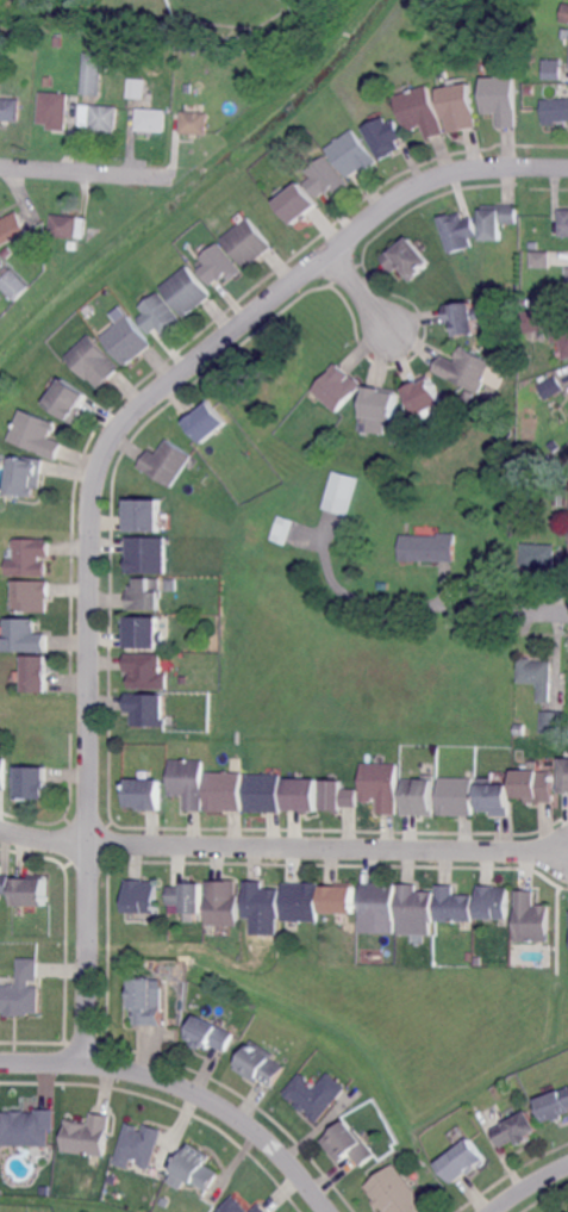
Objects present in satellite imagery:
building: (566, 14)
building: (24, 29)
building: (566, 35)
building: (123, 41)
building: (57, 42)
building: (93, 45)
building: (555, 69)
building: (92, 74)
building: (46, 80)
building: (137, 87)
building: (188, 87)
building: (530, 88)
building: (503, 100)
building: (54, 107)
building: (10, 108)
building: (460, 108)
building: (423, 111)
building: (556, 111)
building: (99, 116)
building: (151, 119)
building: (195, 123)
building: (387, 137)
building: (354, 155)
road: (88, 172)
building: (327, 179)
building: (300, 203)
building: (499, 222)
building: (564, 222)
building: (68, 225)
building: (12, 228)
building: (460, 231)
building: (249, 242)
building: (74, 244)
building: (38, 247)
building: (407, 259)
building: (541, 259)
building: (220, 265)
building: (13, 282)
building: (566, 284)
building: (189, 291)
road: (367, 298)
building: (524, 300)
building: (161, 315)
building: (464, 318)
building: (533, 321)
building: (561, 336)
building: (127, 340)
building: (95, 361)
building: (466, 369)
building: (338, 387)
building: (550, 387)
building: (423, 396)
building: (69, 400)
building: (379, 403)
building: (206, 423)
building: (39, 434)
building: (553, 446)
building: (166, 464)
building: (29, 477)
road: (100, 480)
building: (339, 491)
building: (526, 501)
building: (146, 515)
building: (282, 528)
building: (555, 533)
building: (430, 547)
building: (148, 554)
building: (31, 555)
building: (538, 557)
building: (567, 565)
building: (173, 585)
building: (385, 585)
building: (146, 593)
building: (35, 595)
road: (542, 613)
building: (144, 632)
building: (27, 636)
building: (148, 671)
building: (38, 673)
building: (537, 676)
building: (148, 708)
building: (553, 721)
building: (520, 729)
building: (2, 772)
building: (564, 776)
building: (186, 781)
building: (33, 783)
building: (380, 785)
building: (533, 785)
building: (223, 791)
building: (263, 793)
building: (144, 795)
building: (302, 795)
building: (339, 796)
building: (457, 796)
building: (418, 797)
building: (494, 798)
road: (45, 843)
road: (329, 853)
building: (0, 871)
building: (4, 885)
building: (30, 891)
building: (139, 896)
building: (187, 897)
building: (337, 900)
building: (261, 901)
building: (300, 902)
building: (377, 902)
building: (493, 902)
building: (221, 903)
building: (413, 905)
building: (452, 905)
building: (531, 918)
building: (20, 989)
building: (145, 999)
building: (207, 1034)
building: (258, 1065)
building: (314, 1093)
road: (185, 1094)
building: (555, 1105)
building: (27, 1126)
building: (517, 1130)
building: (87, 1133)
building: (139, 1144)
building: (348, 1144)
building: (464, 1161)
building: (195, 1166)
road: (531, 1186)
building: (395, 1192)
building: (233, 1206)
building: (260, 1208)
building: (567, 1211)

